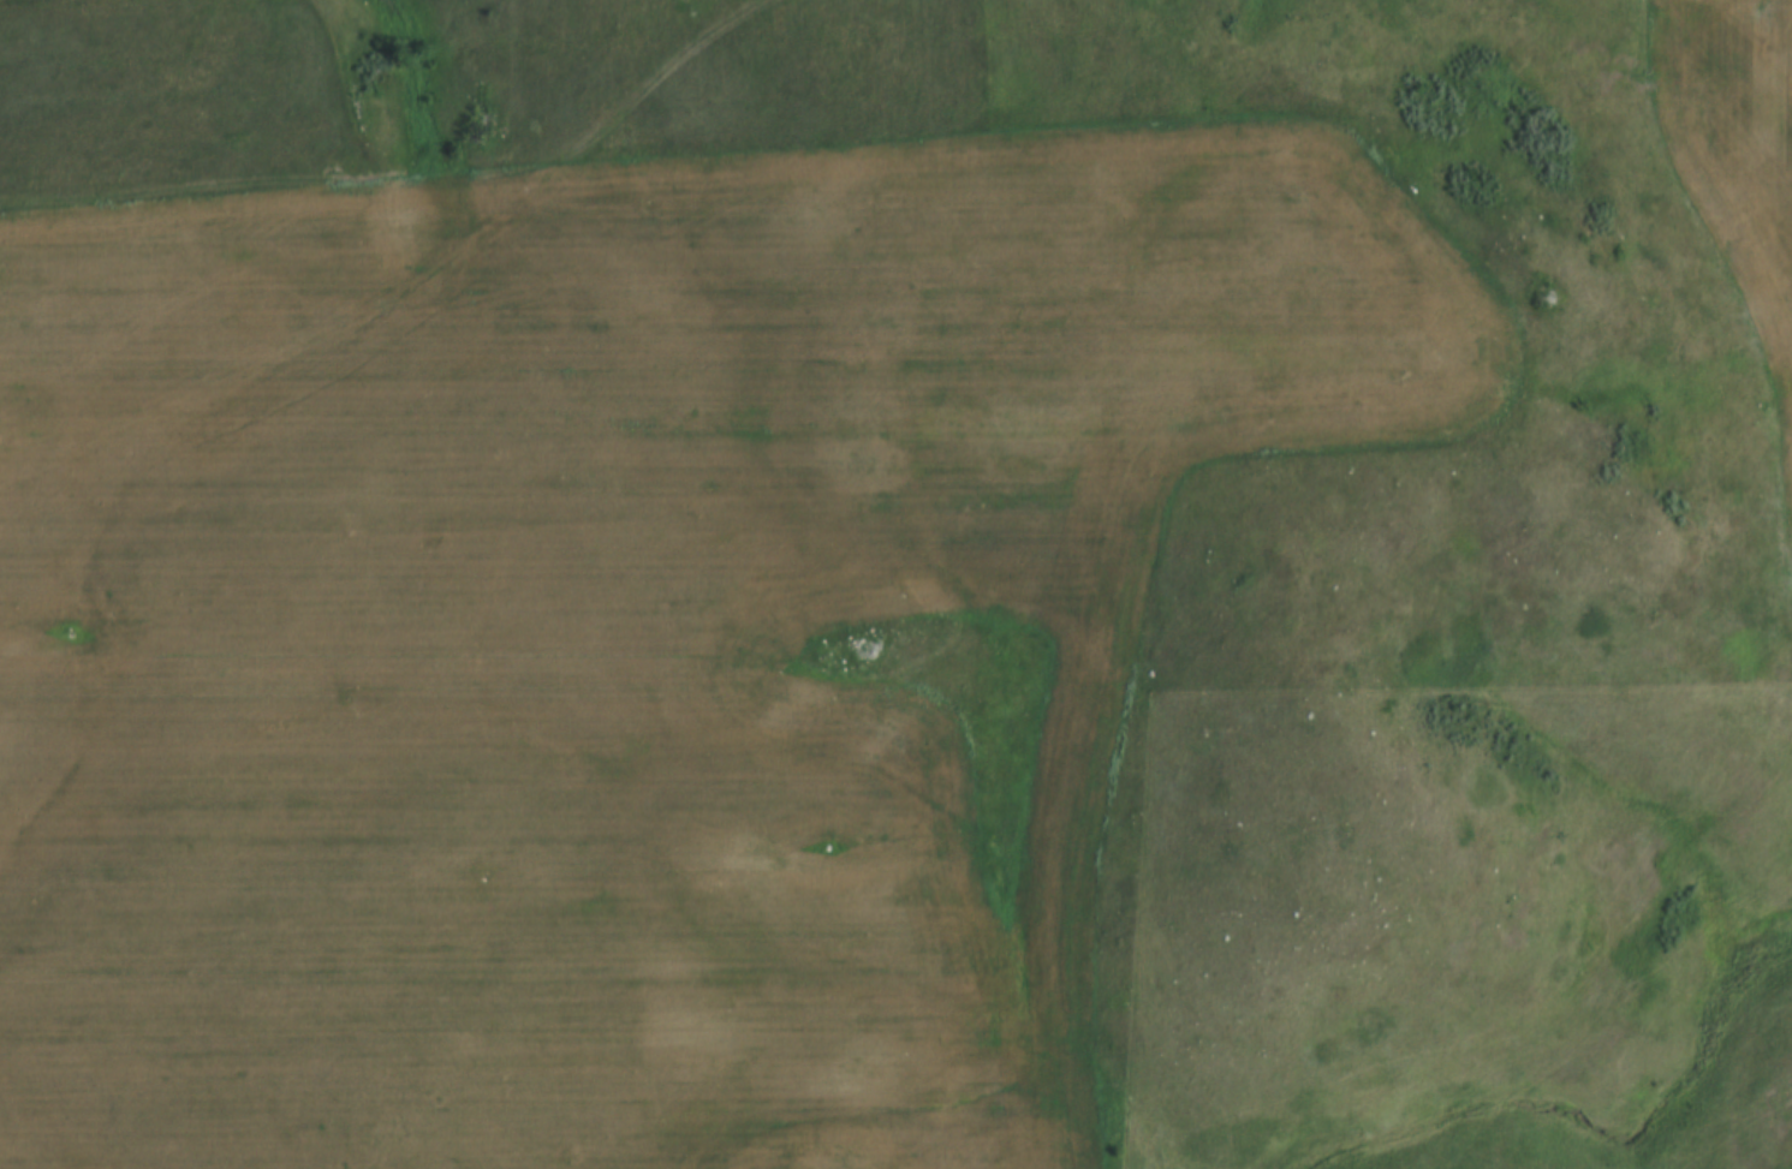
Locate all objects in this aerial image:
road: (412, 169)

